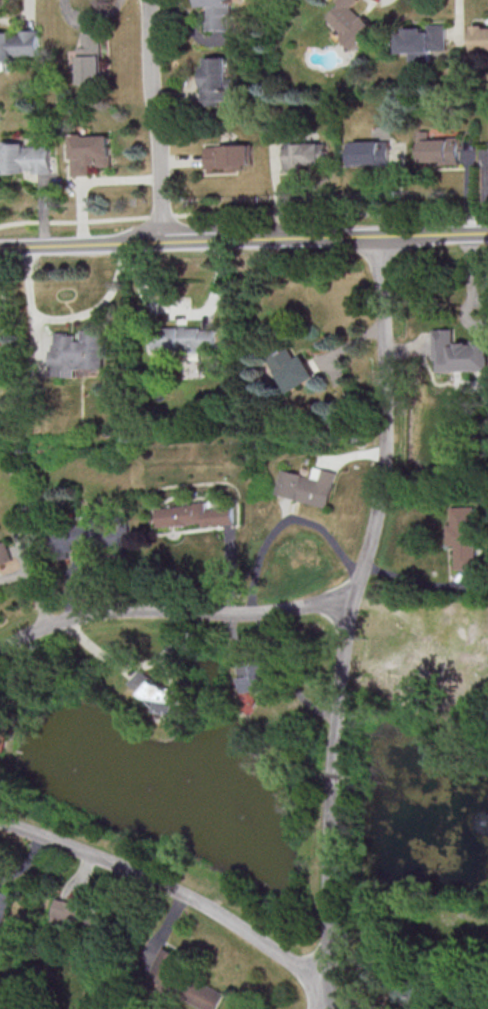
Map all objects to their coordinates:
road: (32, 11)
road: (93, 20)
building: (221, 20)
building: (357, 23)
road: (463, 26)
building: (482, 38)
building: (426, 39)
building: (20, 44)
building: (93, 62)
building: (219, 82)
road: (175, 88)
road: (156, 121)
building: (446, 151)
building: (94, 155)
building: (372, 155)
building: (233, 156)
building: (311, 156)
road: (182, 159)
building: (30, 160)
road: (91, 179)
road: (474, 186)
road: (283, 191)
road: (317, 210)
road: (480, 212)
road: (38, 215)
road: (80, 219)
road: (243, 240)
road: (182, 313)
road: (67, 317)
building: (184, 337)
building: (78, 351)
building: (458, 352)
building: (1, 360)
building: (292, 369)
building: (308, 485)
building: (194, 514)
road: (282, 522)
building: (87, 534)
building: (464, 535)
building: (4, 553)
road: (14, 571)
road: (32, 577)
road: (173, 611)
road: (350, 622)
building: (256, 673)
road: (288, 675)
building: (156, 693)
road: (172, 893)
building: (3, 911)
building: (71, 915)
building: (168, 968)
building: (207, 997)
road: (334, 1008)

